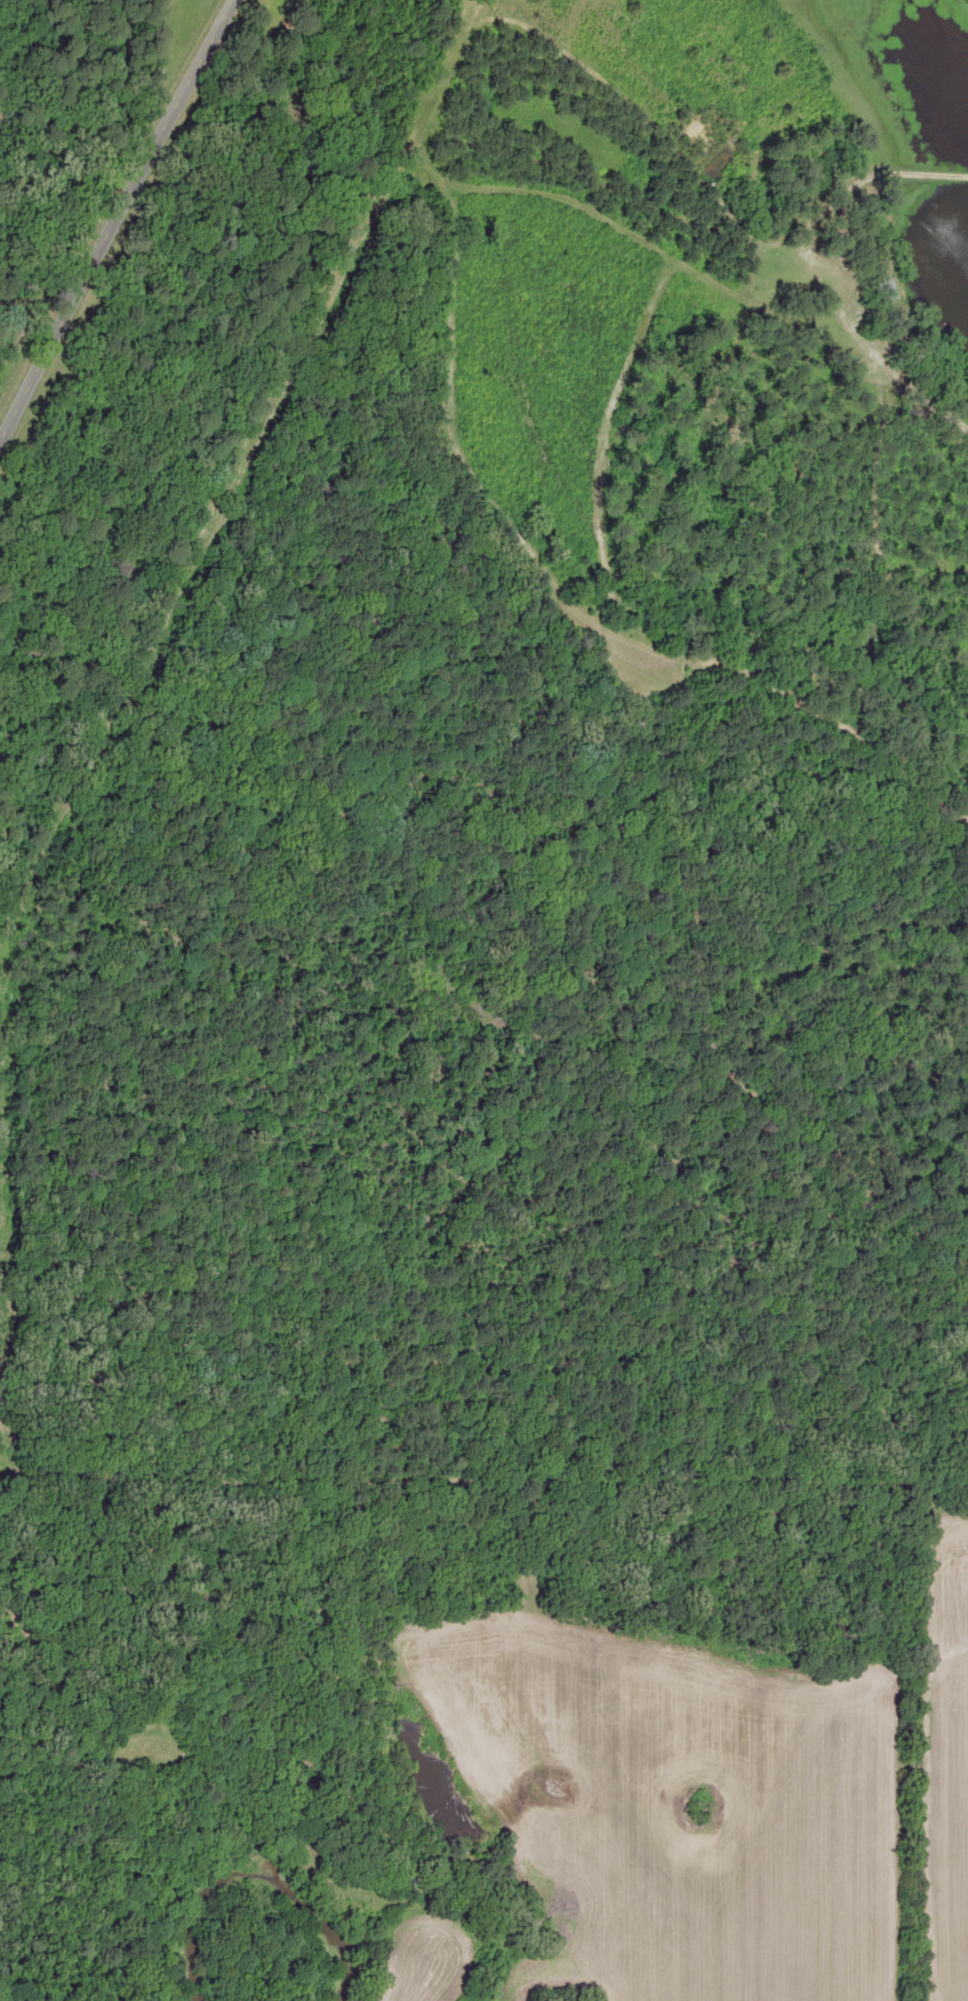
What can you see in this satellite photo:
road: (103, 214)

